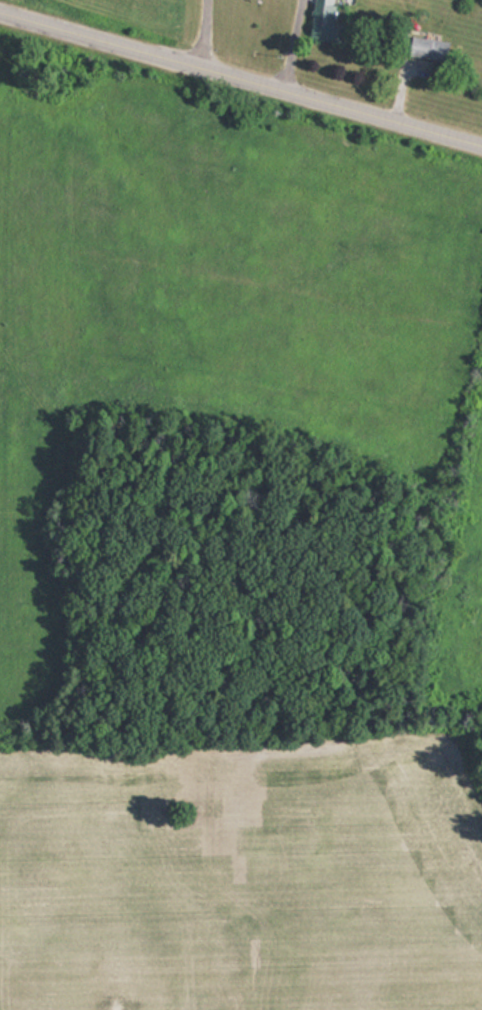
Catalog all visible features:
building: (323, 23)
building: (426, 48)
road: (240, 81)

